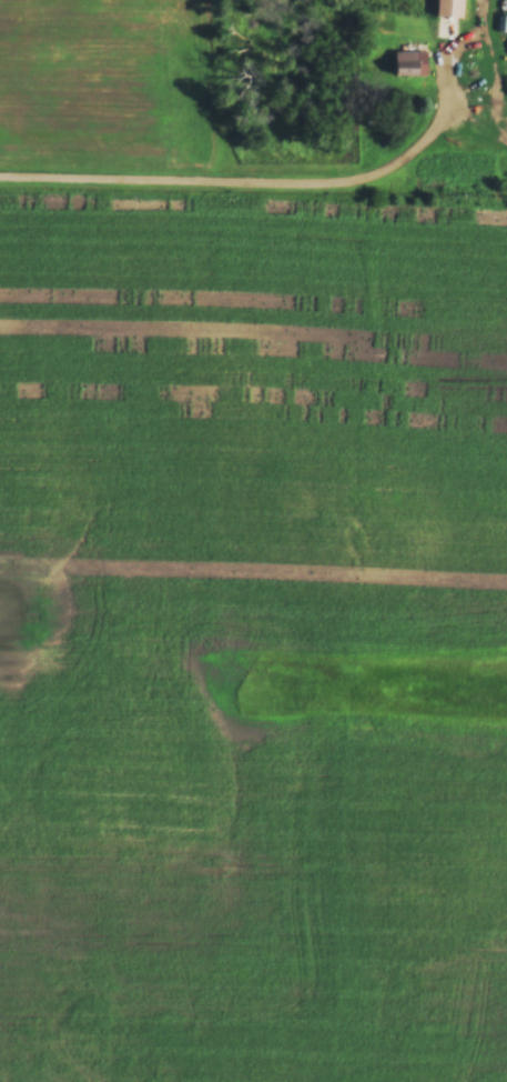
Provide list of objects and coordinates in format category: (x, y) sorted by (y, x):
building: (449, 8)
building: (408, 63)
road: (274, 183)

